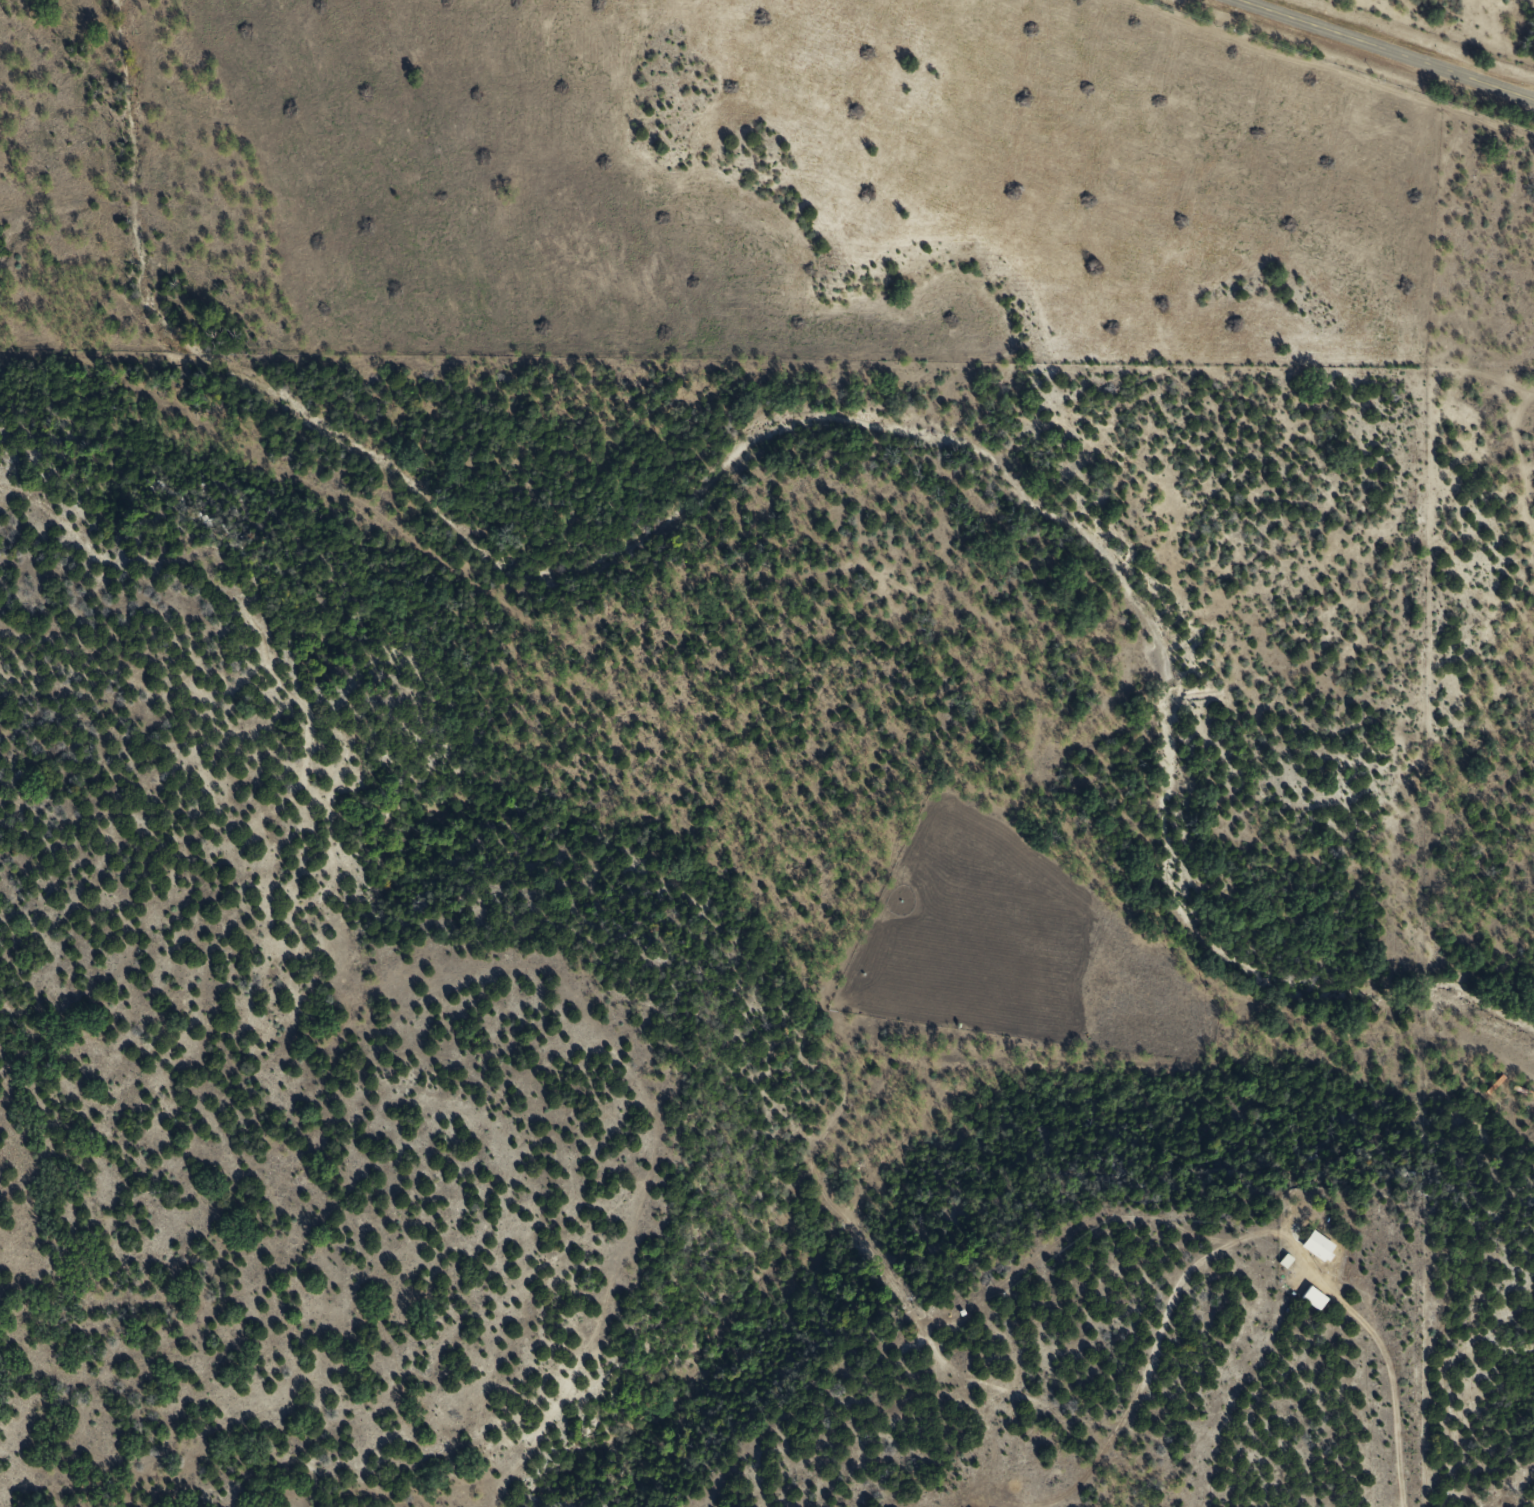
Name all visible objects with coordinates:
road: (1390, 47)
road: (1445, 1045)
building: (1319, 1247)
building: (1315, 1299)

